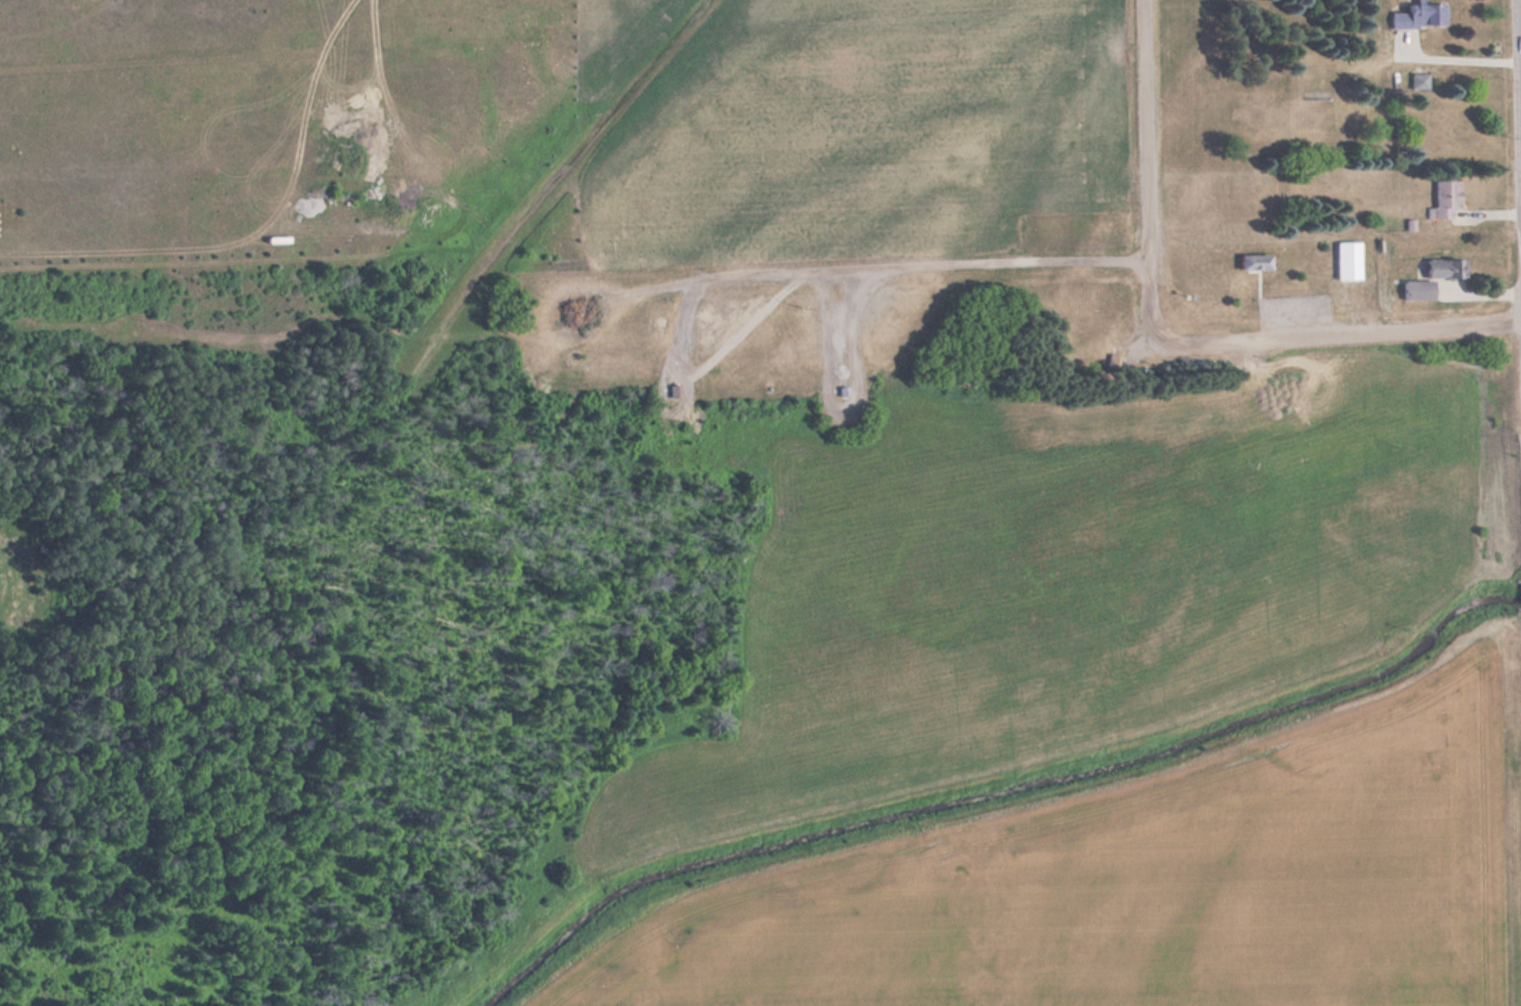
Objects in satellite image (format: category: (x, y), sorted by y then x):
building: (1416, 16)
building: (1415, 80)
road: (1147, 168)
building: (1441, 198)
building: (1344, 258)
building: (1250, 260)
building: (1441, 266)
building: (1414, 288)
road: (1335, 333)
park: (745, 675)

